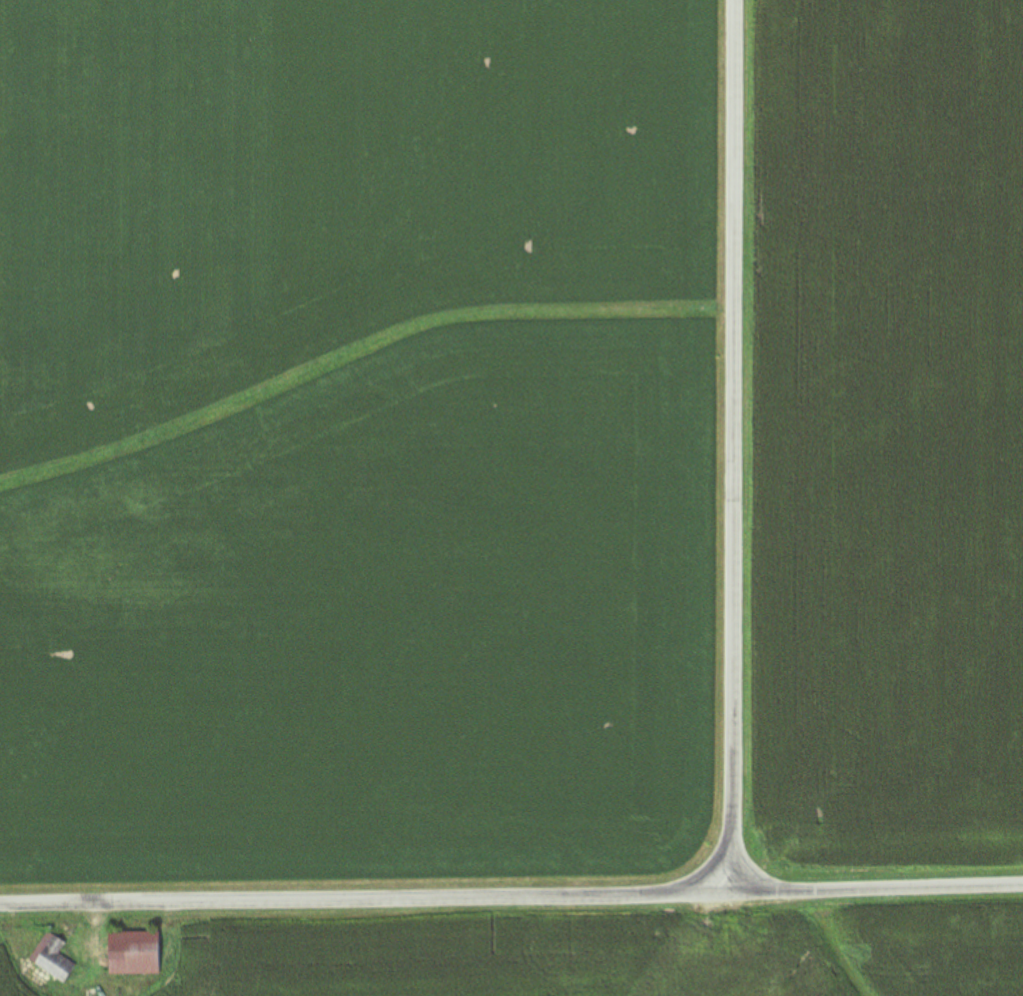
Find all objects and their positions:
road: (735, 446)
road: (511, 895)
building: (134, 953)
building: (53, 957)

